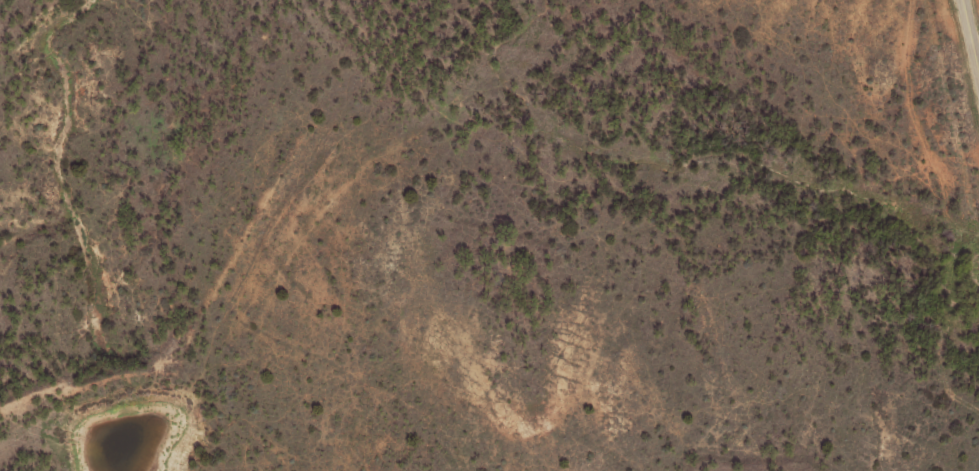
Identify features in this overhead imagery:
road: (968, 47)

